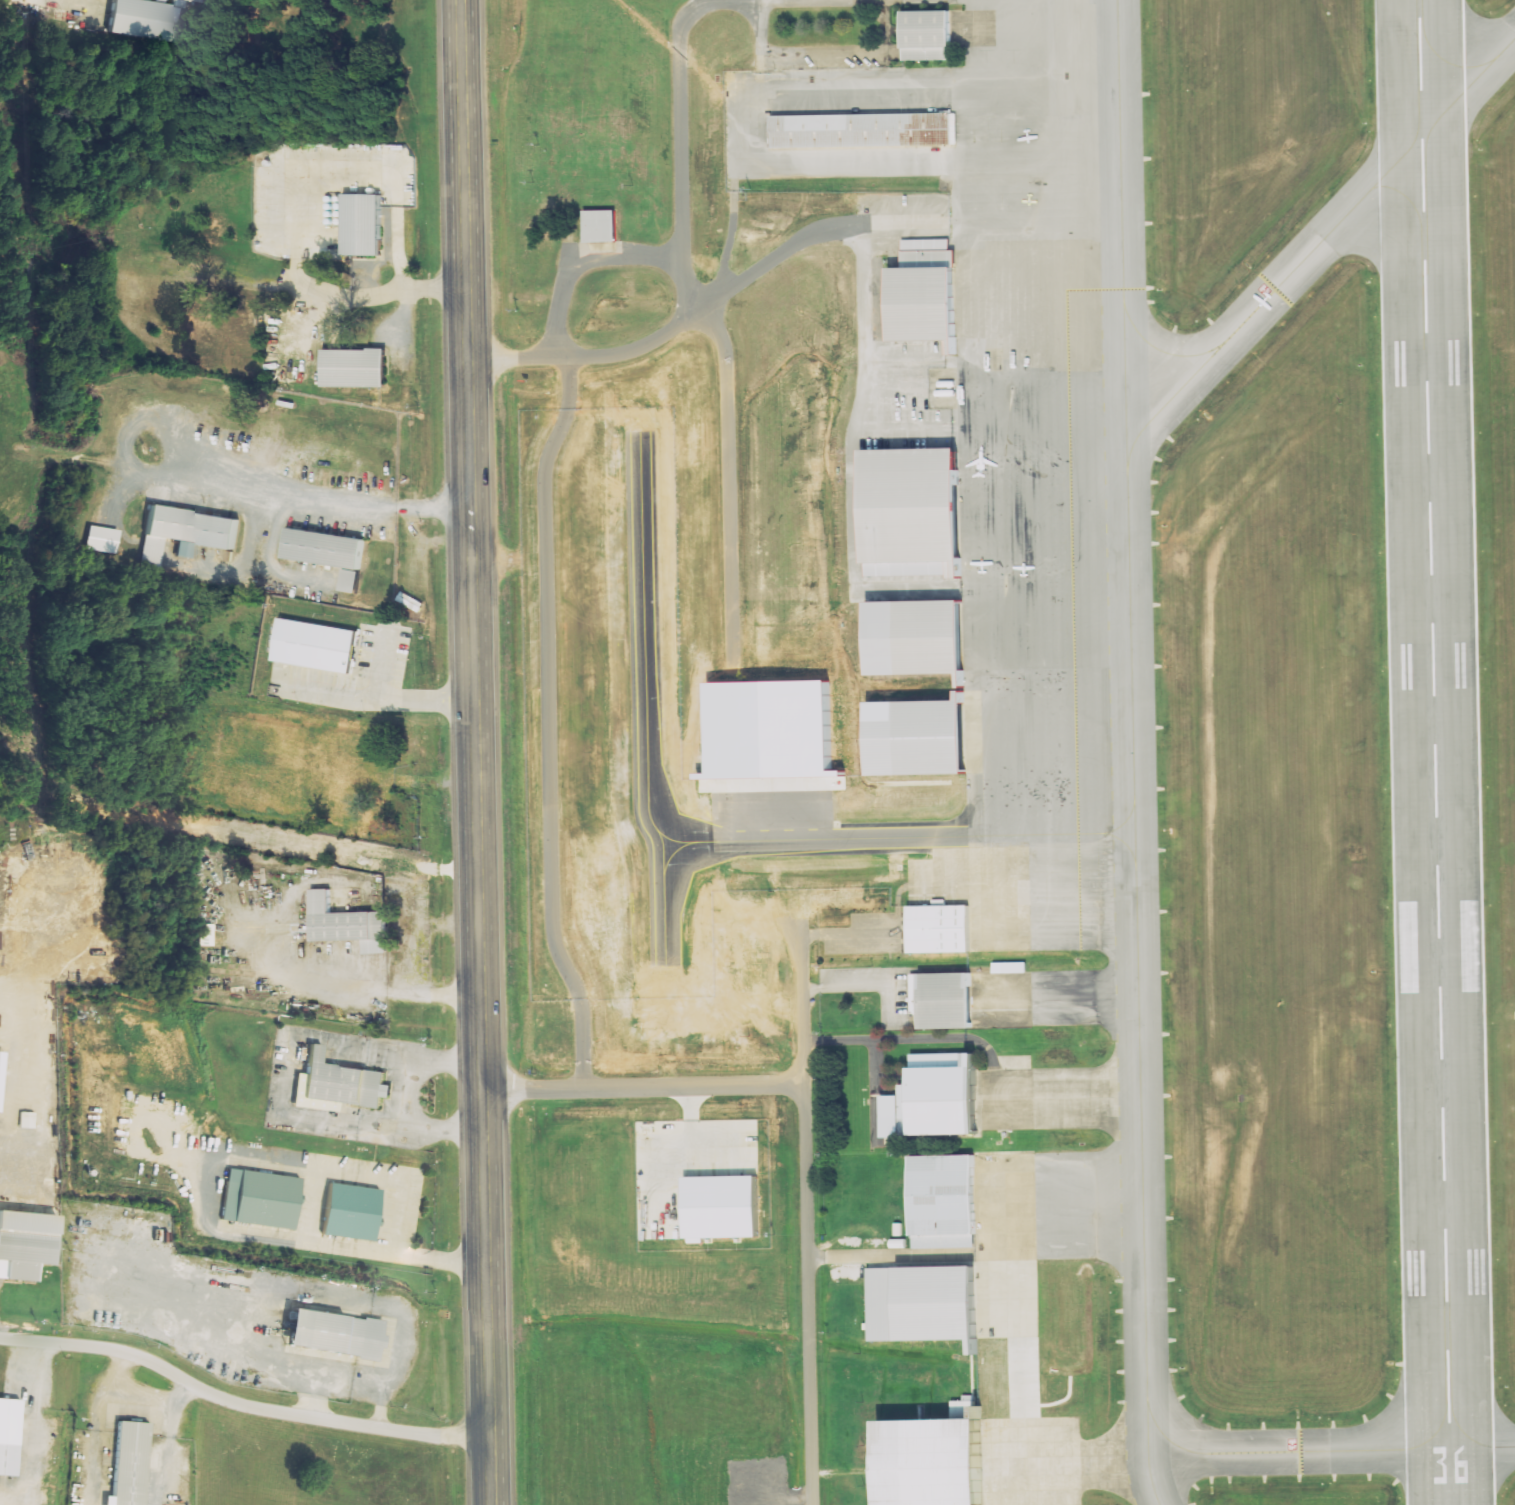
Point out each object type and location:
building: (214, 1)
building: (150, 19)
road: (762, 35)
airport hangar: (928, 35)
building: (928, 35)
road: (830, 53)
airport taxiway: (1468, 87)
airport hangar: (864, 130)
building: (864, 130)
building: (363, 224)
road: (903, 226)
building: (597, 227)
airport taxiway: (1274, 291)
airport hangar: (926, 295)
building: (926, 295)
road: (677, 327)
road: (903, 360)
building: (355, 368)
road: (894, 390)
parking lot: (905, 399)
road: (861, 405)
road: (900, 431)
airport hangar: (914, 508)
building: (914, 508)
building: (184, 531)
building: (106, 539)
building: (327, 547)
airport apron: (1009, 548)
building: (354, 581)
road: (907, 582)
airport hangar: (933, 639)
building: (933, 639)
building: (322, 646)
airport: (1056, 682)
building: (777, 737)
building: (925, 737)
road: (478, 752)
airport runway: (1435, 752)
airport taxiway: (1133, 753)
building: (348, 925)
airport hangar: (940, 929)
building: (940, 929)
building: (208, 935)
road: (848, 935)
building: (1009, 968)
road: (862, 988)
airport hangar: (943, 1000)
building: (943, 1000)
road: (802, 1003)
road: (907, 1039)
road: (892, 1074)
building: (342, 1080)
building: (3, 1084)
road: (877, 1091)
airport hangar: (940, 1102)
building: (940, 1102)
building: (30, 1120)
road: (887, 1130)
road: (804, 1135)
building: (266, 1198)
airport hangar: (943, 1202)
building: (943, 1202)
building: (728, 1208)
building: (351, 1210)
building: (25, 1242)
road: (889, 1256)
building: (918, 1303)
building: (335, 1333)
road: (237, 1405)
building: (9, 1421)
airport taxiway: (1482, 1449)
airport taxiway: (1299, 1451)
airport hangar: (937, 1459)
building: (937, 1459)
airport apron: (1052, 1462)
building: (130, 1463)

